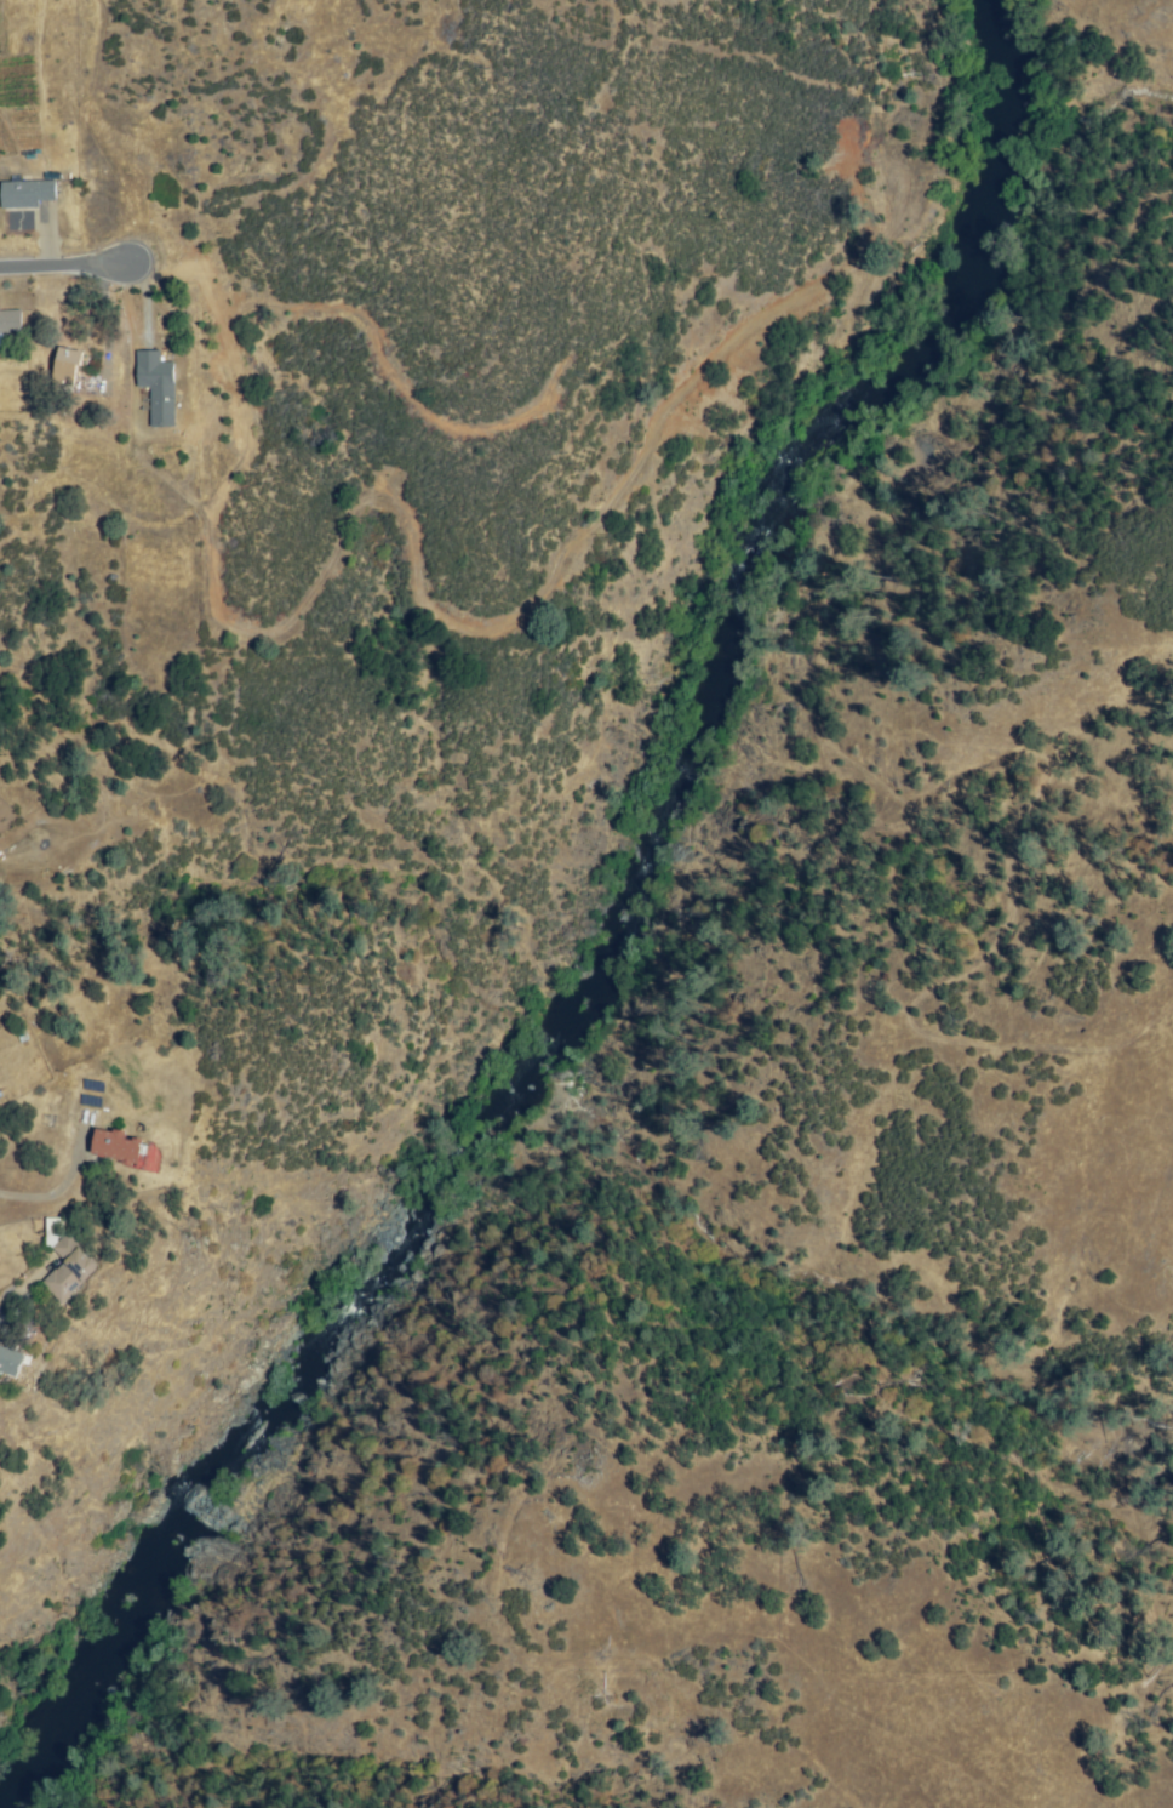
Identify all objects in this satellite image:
river: (978, 105)
building: (29, 193)
road: (57, 267)
building: (10, 321)
building: (0, 344)
building: (68, 372)
building: (158, 387)
river: (706, 634)
building: (121, 1148)
river: (423, 1179)
road: (57, 1188)
building: (71, 1270)
building: (279, 1276)
river: (334, 1296)
building: (12, 1362)
river: (143, 1547)

